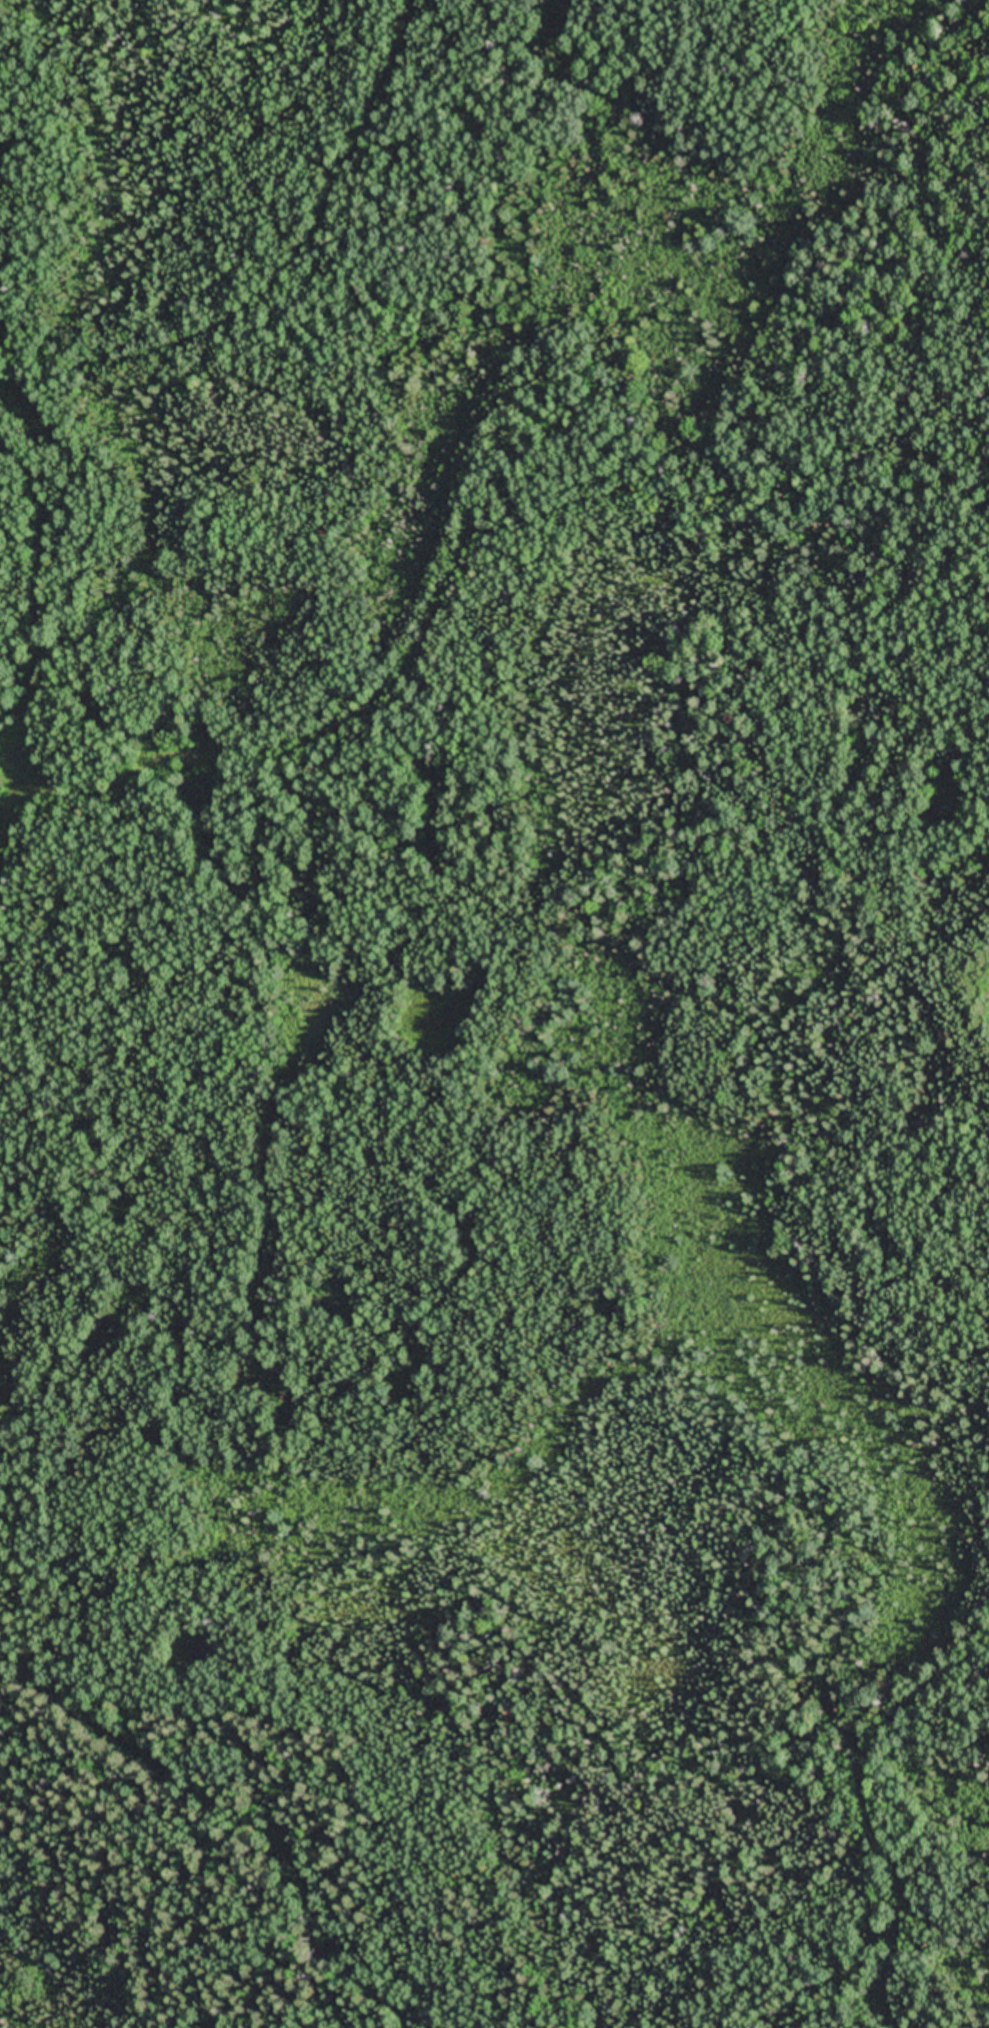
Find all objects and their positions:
road: (43, 161)
road: (282, 289)
road: (496, 571)
road: (26, 587)
road: (236, 1777)
road: (901, 1847)

